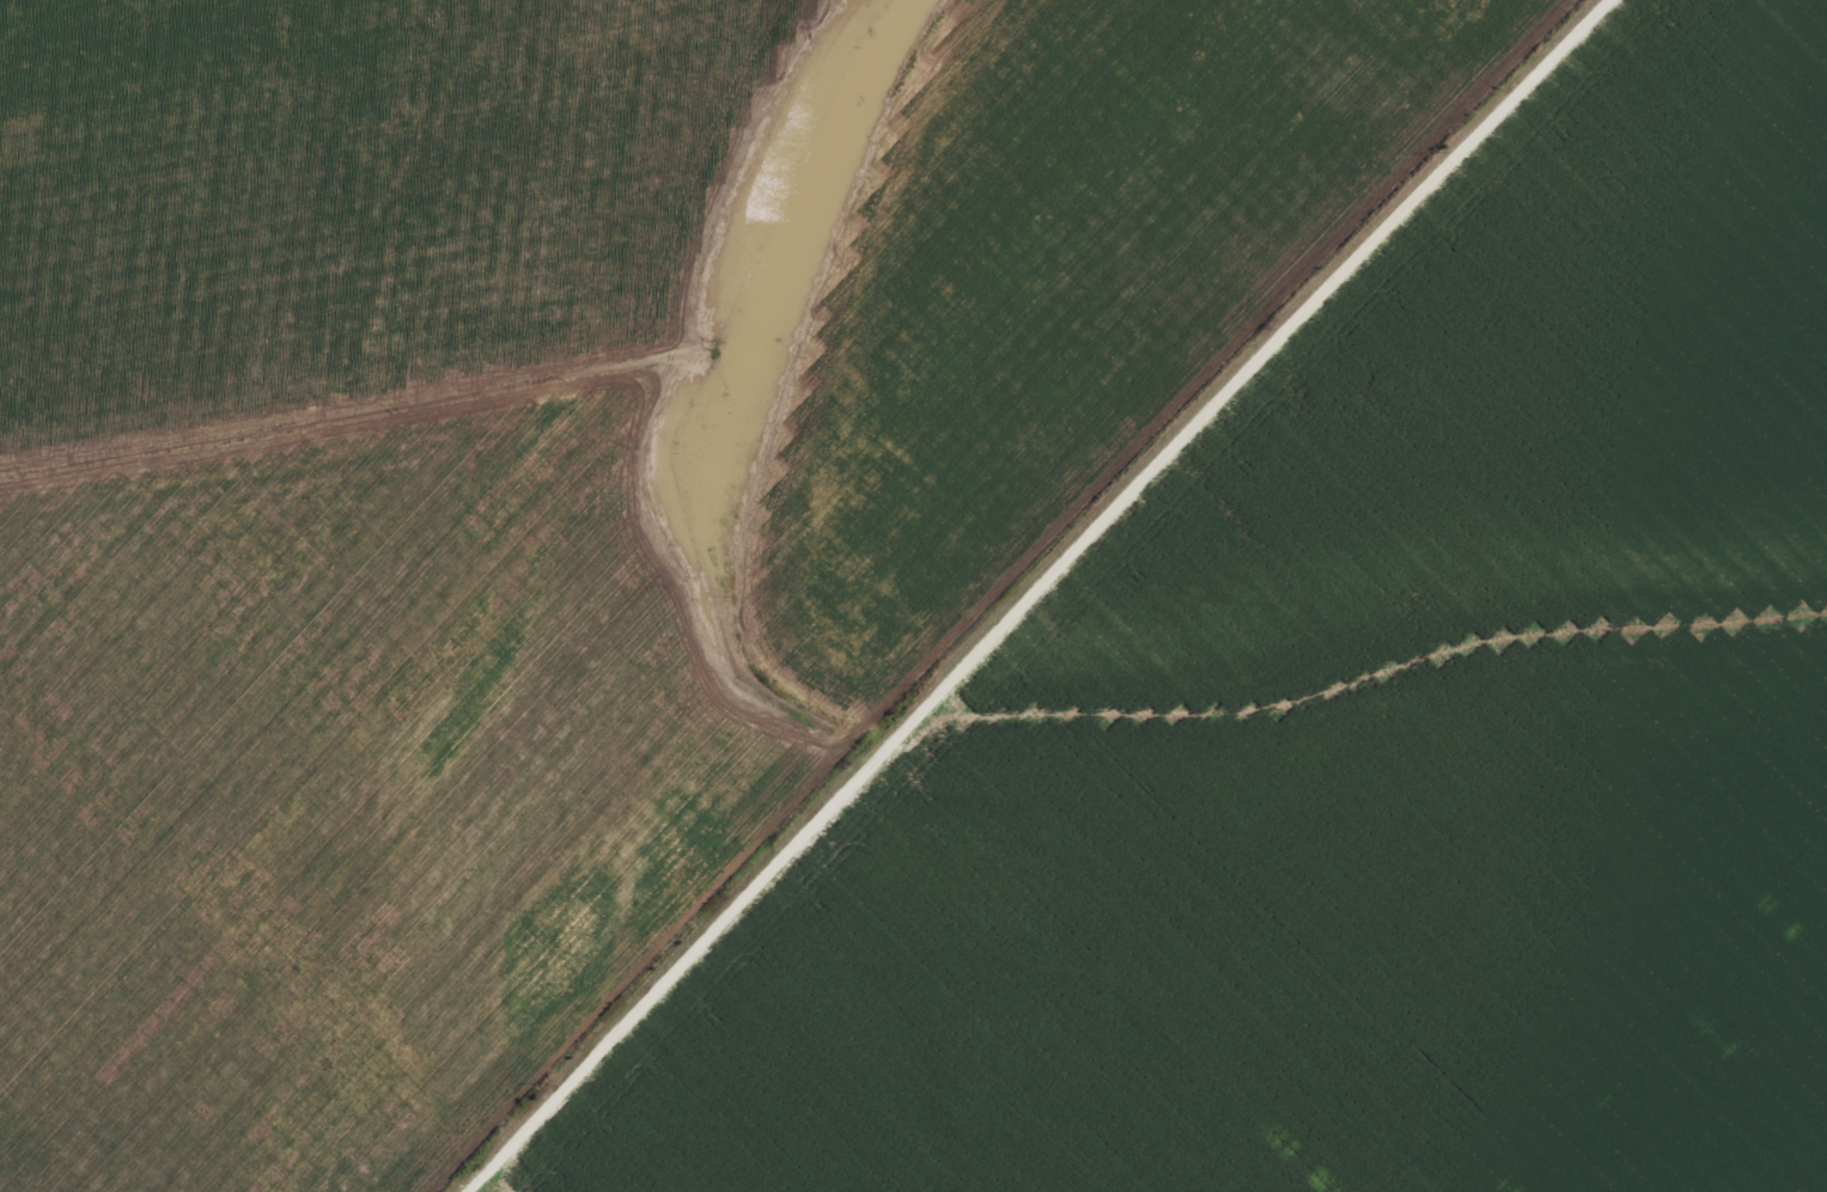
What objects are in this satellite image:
road: (1049, 595)

